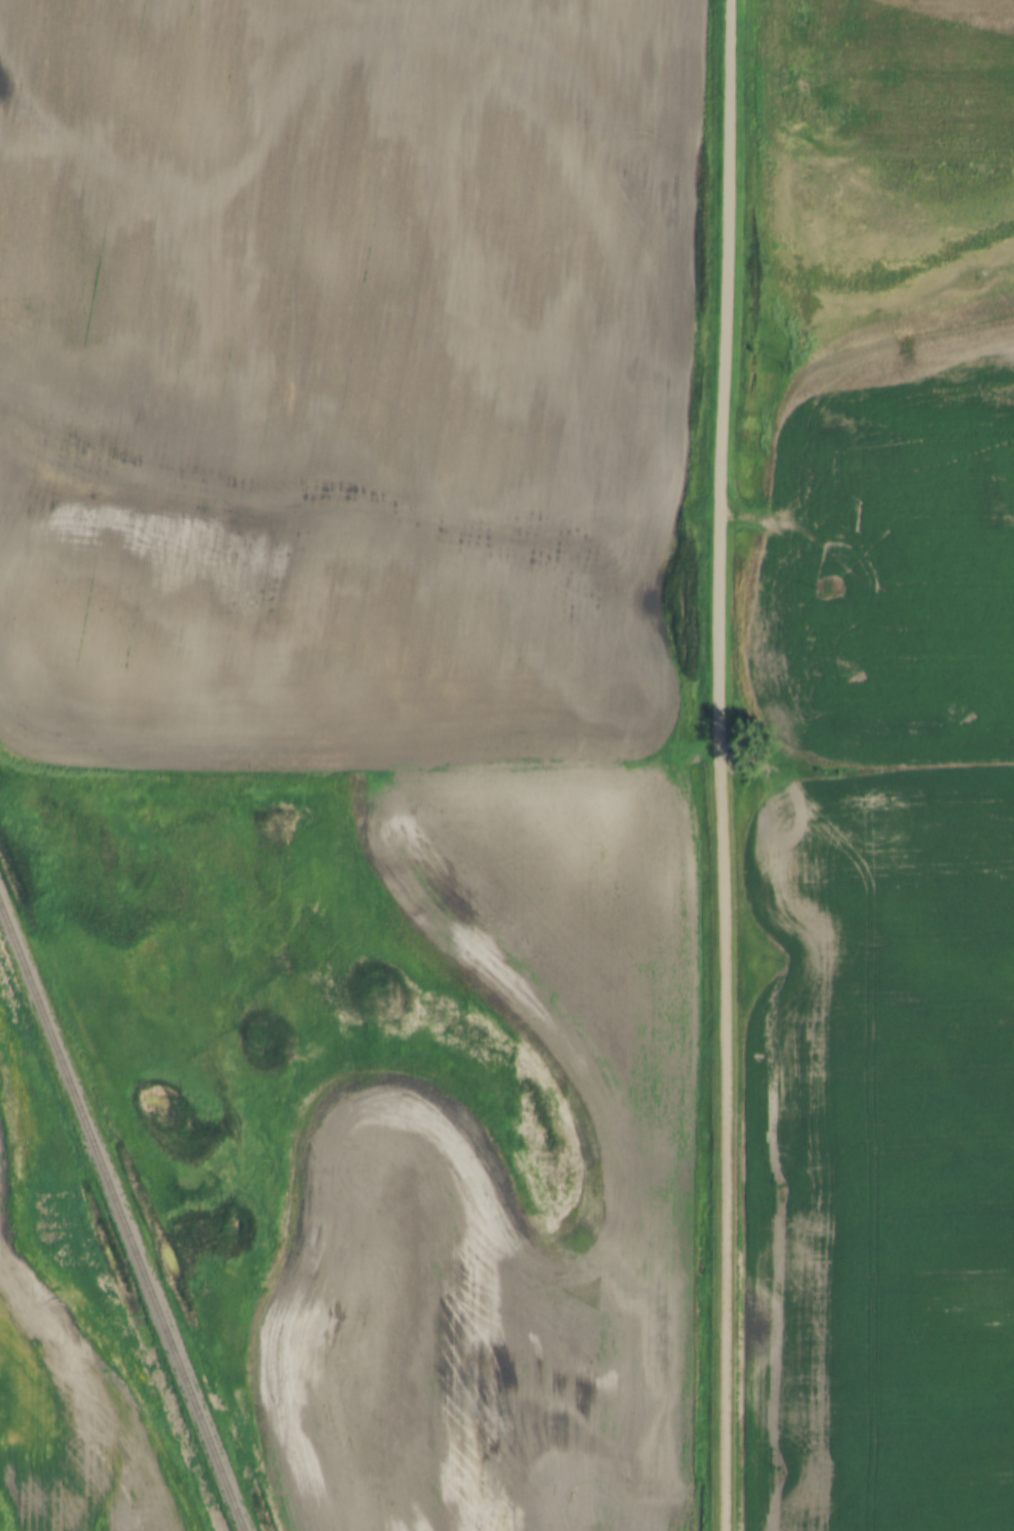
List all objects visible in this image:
road: (819, 543)
road: (715, 765)
railway: (121, 1219)

